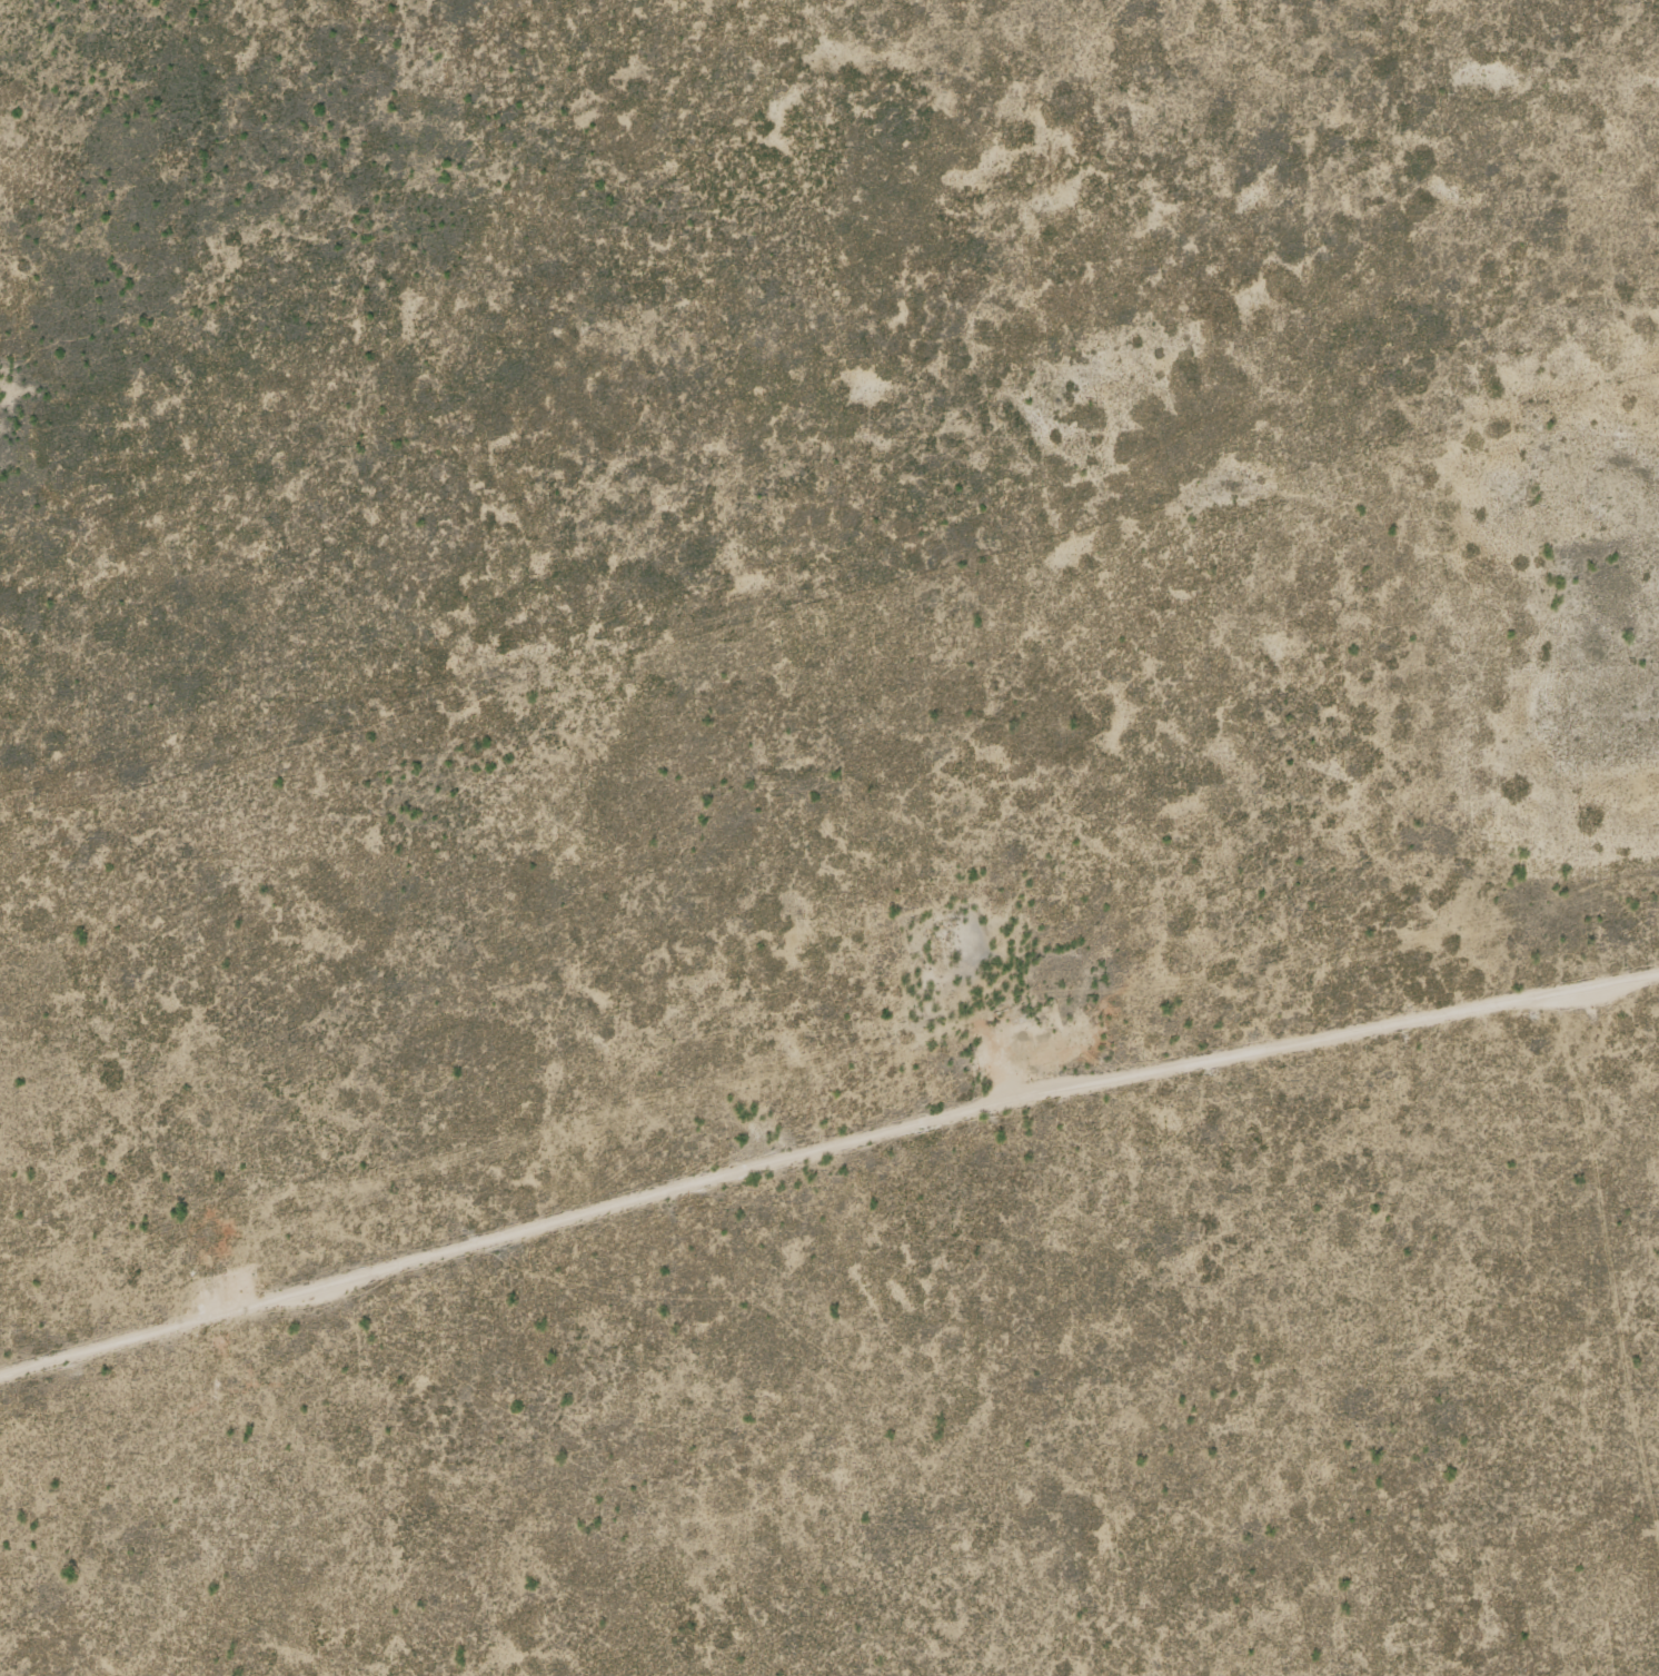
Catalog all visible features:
road: (490, 1263)

